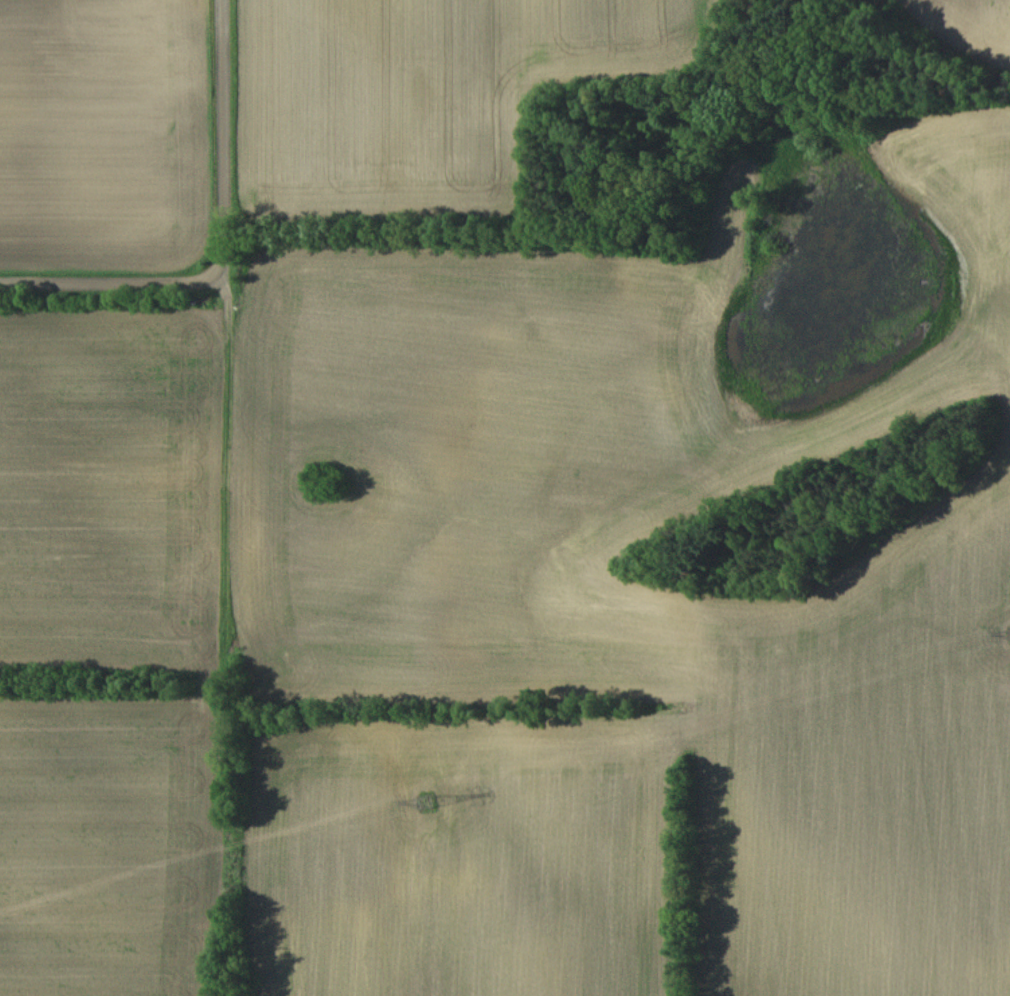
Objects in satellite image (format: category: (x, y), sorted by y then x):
road: (225, 139)
road: (108, 283)
power tower: (450, 807)

